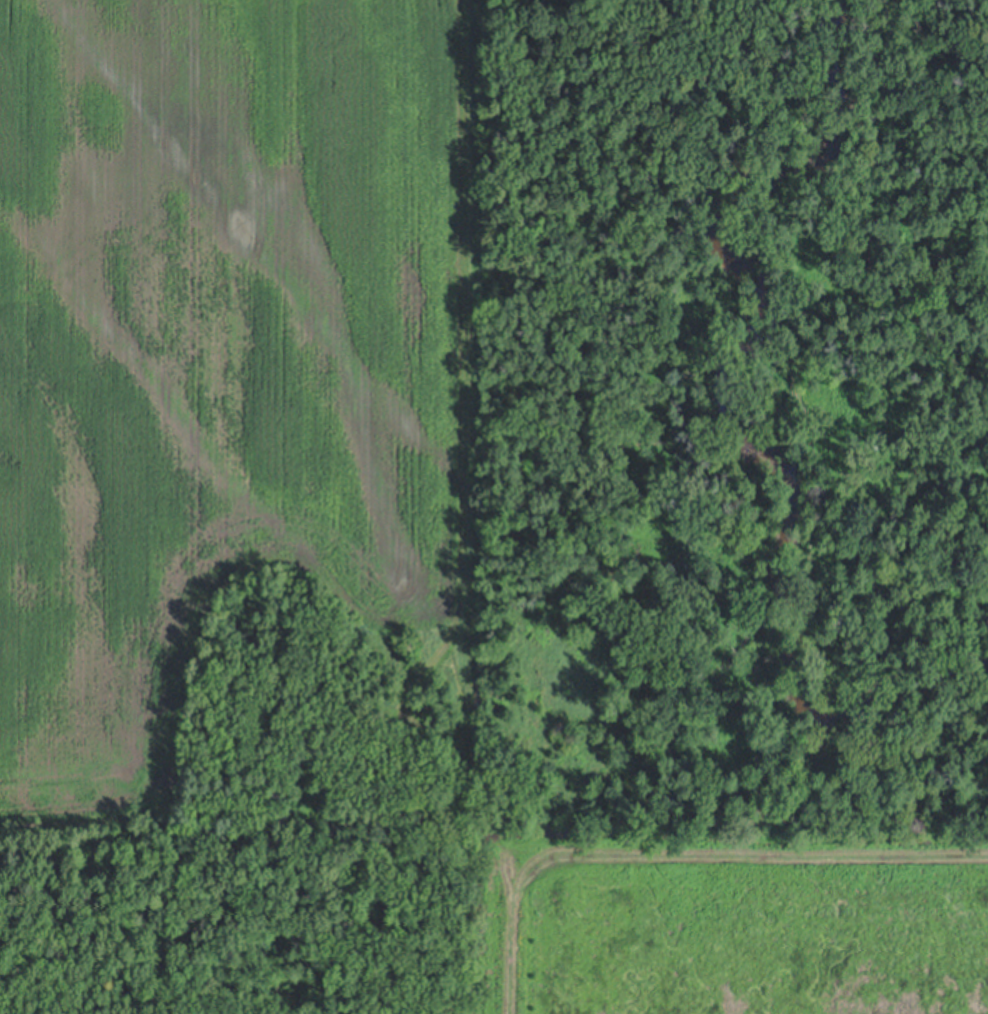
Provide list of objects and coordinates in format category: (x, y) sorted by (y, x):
crop: (212, 347)
crop: (744, 932)

